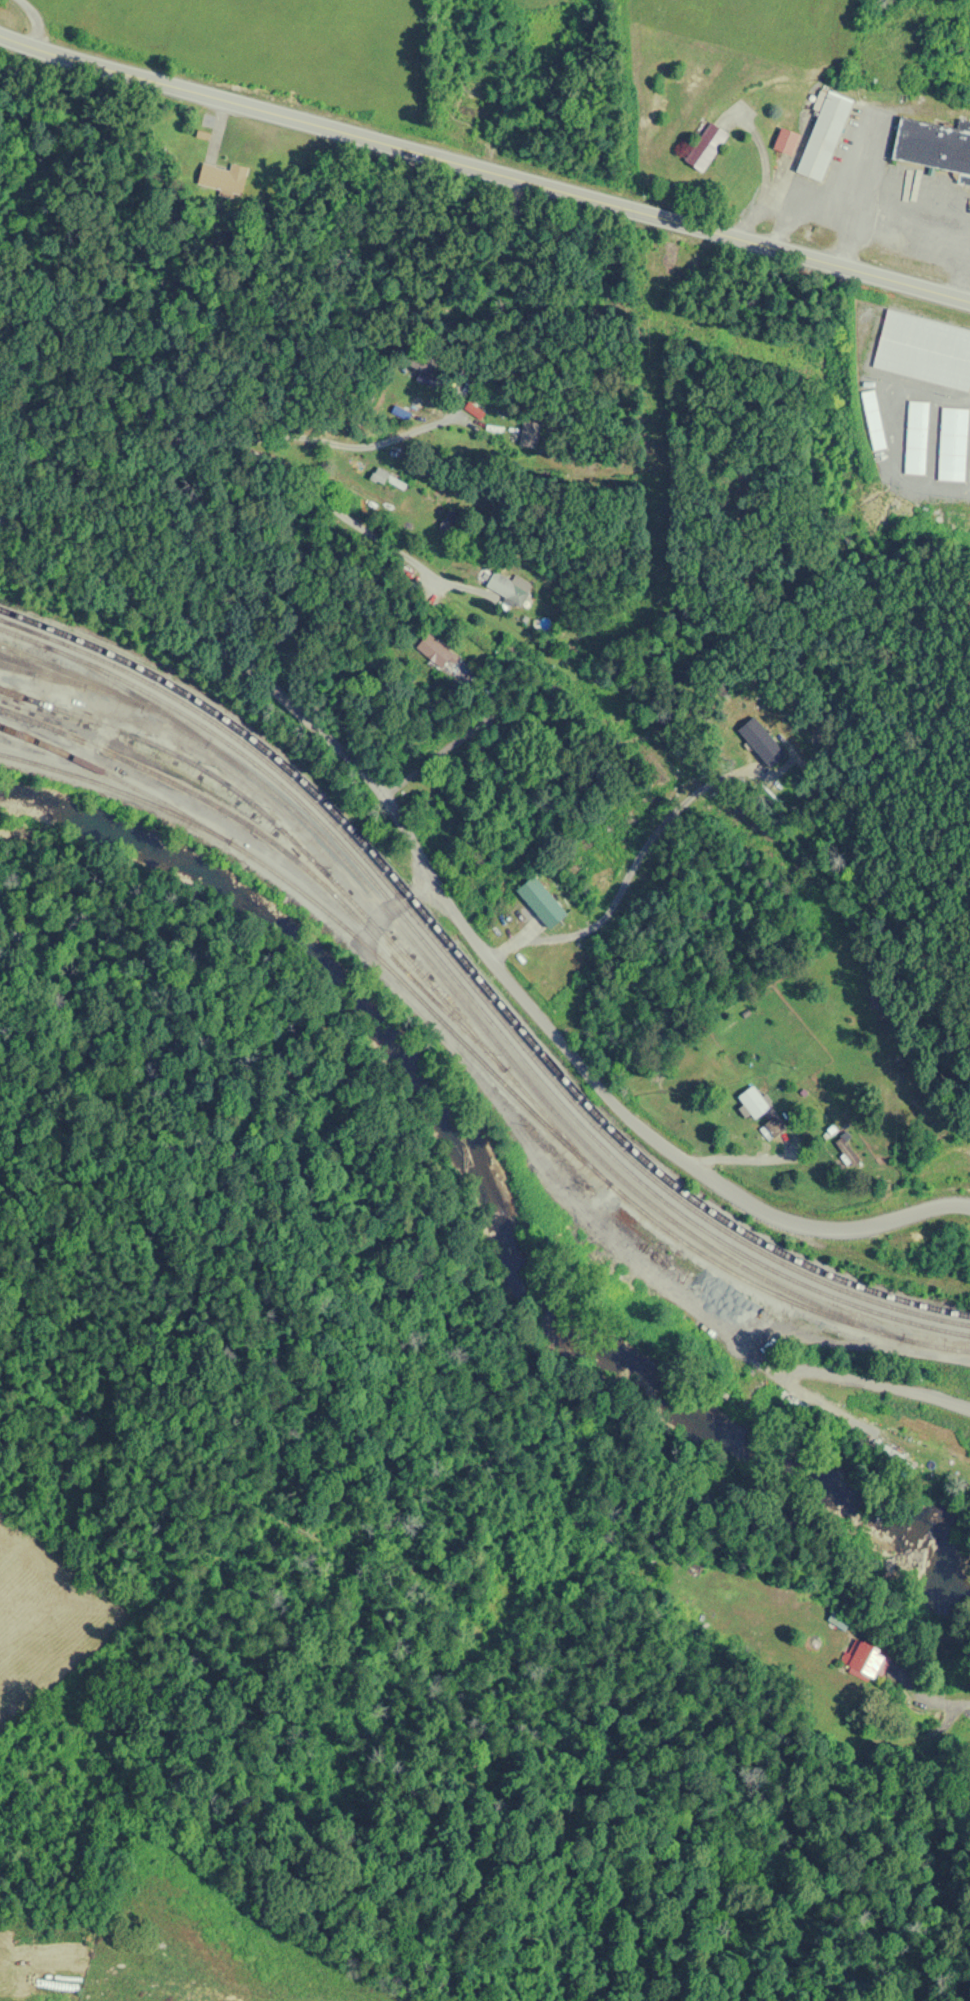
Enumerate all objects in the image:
road: (35, 19)
building: (823, 136)
building: (785, 141)
building: (933, 145)
building: (705, 147)
road: (483, 171)
building: (222, 177)
building: (378, 476)
road: (383, 565)
building: (507, 588)
railway: (1, 664)
railway: (25, 667)
railway: (64, 672)
railway: (125, 690)
railway: (203, 739)
railway: (115, 777)
railway: (115, 789)
railway: (284, 834)
railway: (325, 889)
building: (540, 902)
road: (465, 925)
railway: (477, 976)
railway: (475, 990)
railway: (472, 1003)
building: (752, 1104)
railway: (567, 1146)
river: (486, 1187)
building: (869, 1658)

